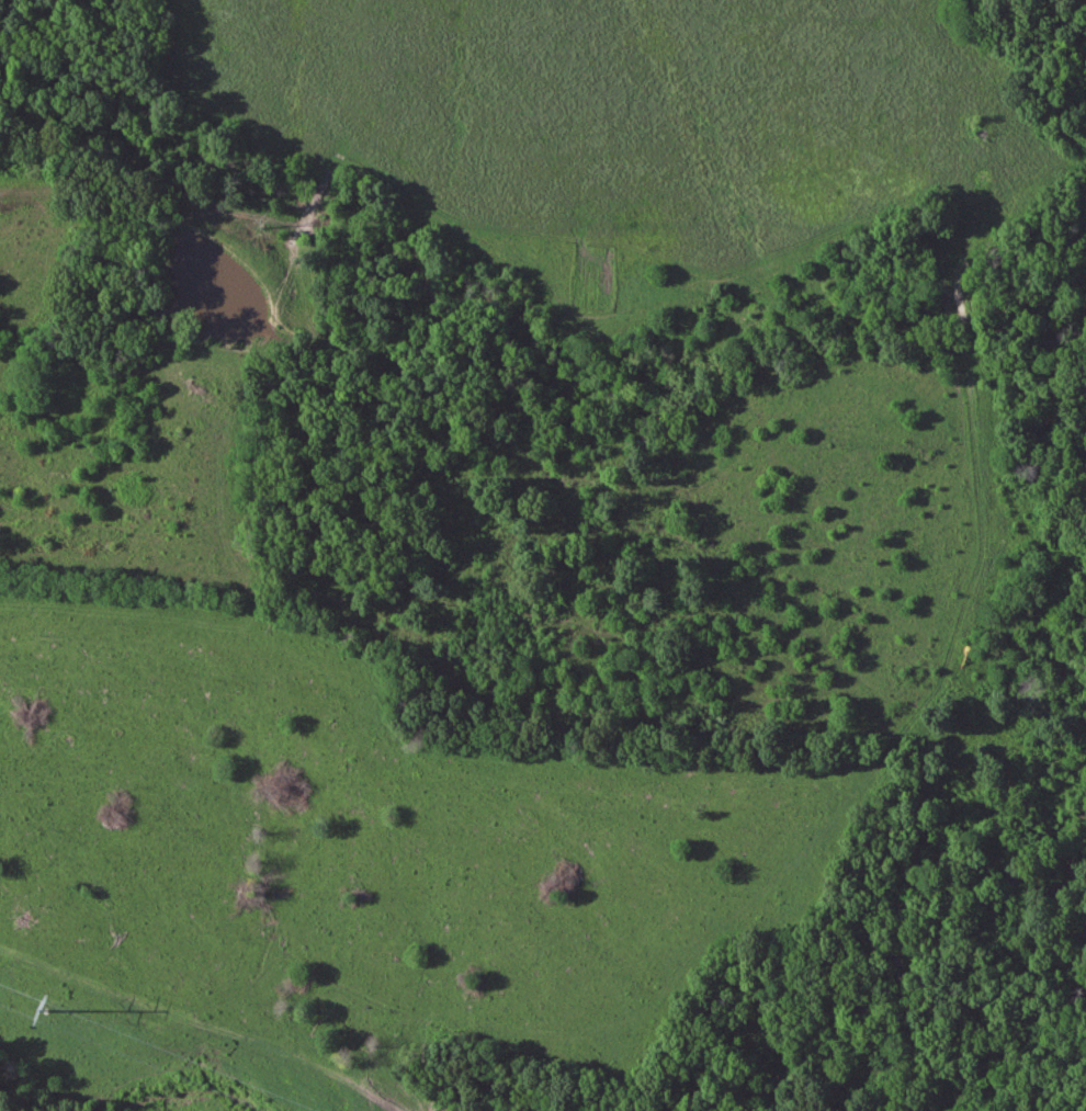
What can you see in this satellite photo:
power tower: (54, 1016)

